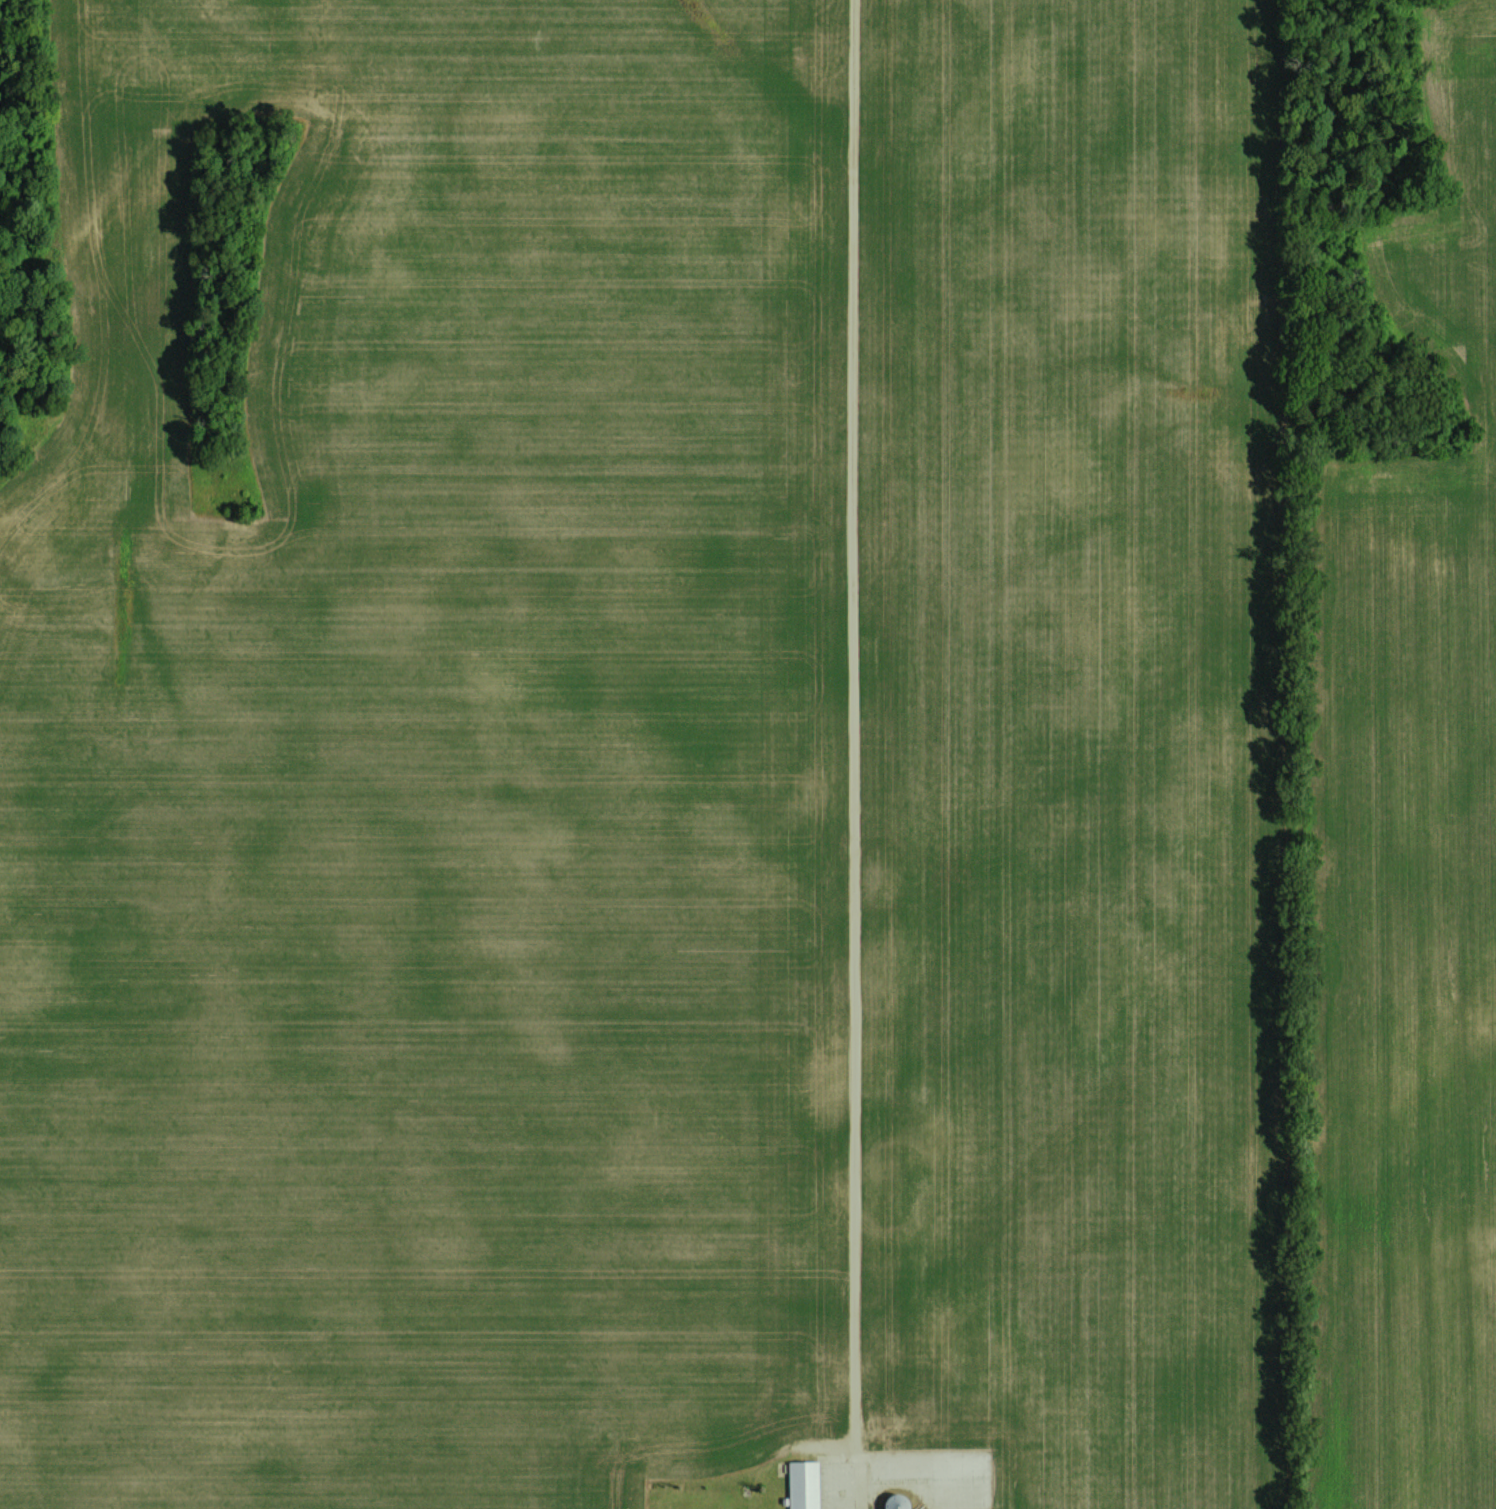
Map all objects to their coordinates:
building: (802, 1485)
building: (894, 1501)

